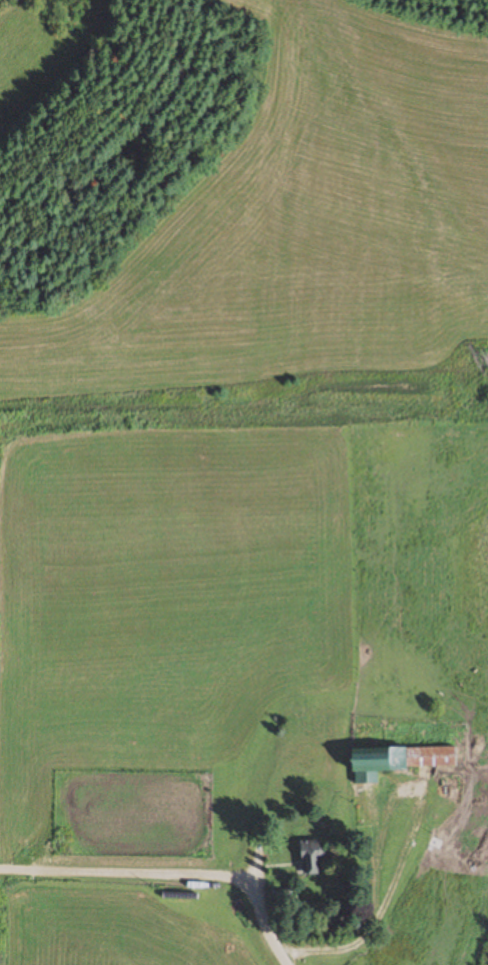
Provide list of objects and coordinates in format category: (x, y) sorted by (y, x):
building: (365, 799)
building: (309, 858)
road: (168, 871)

